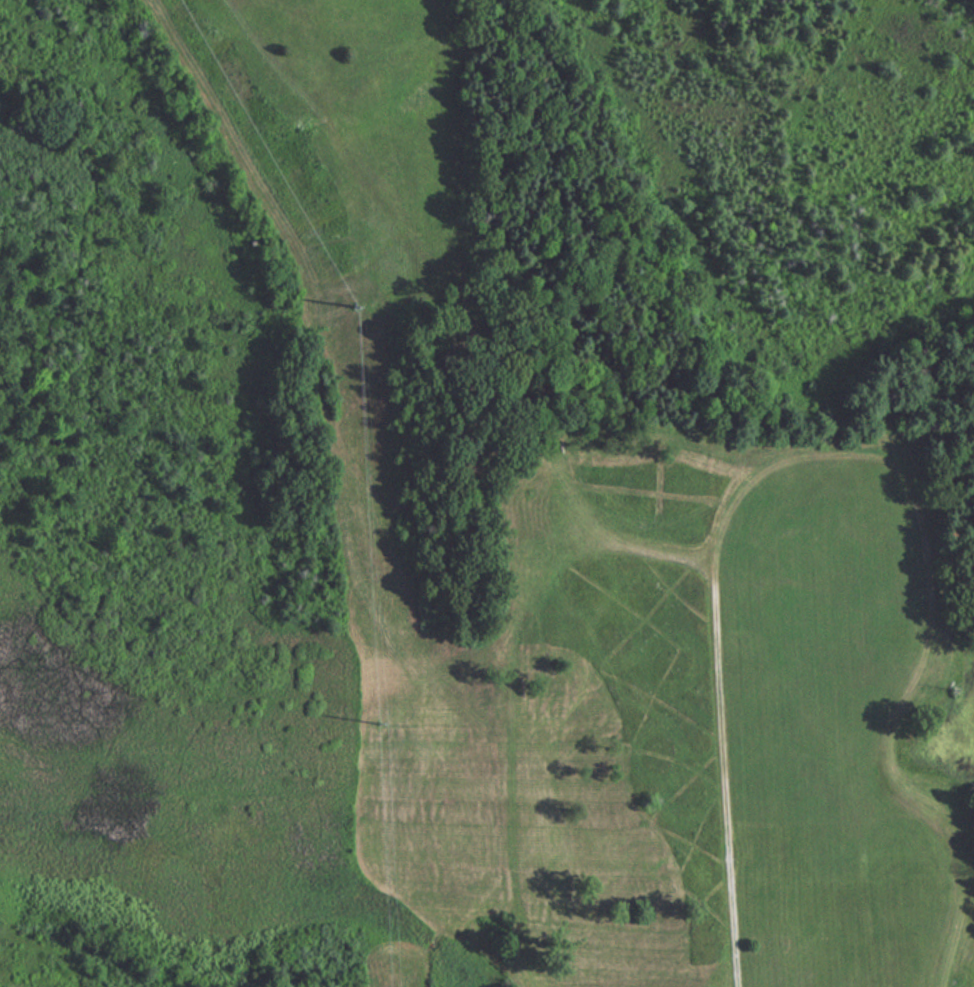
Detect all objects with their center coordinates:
power tower: (355, 306)
power tower: (381, 720)

